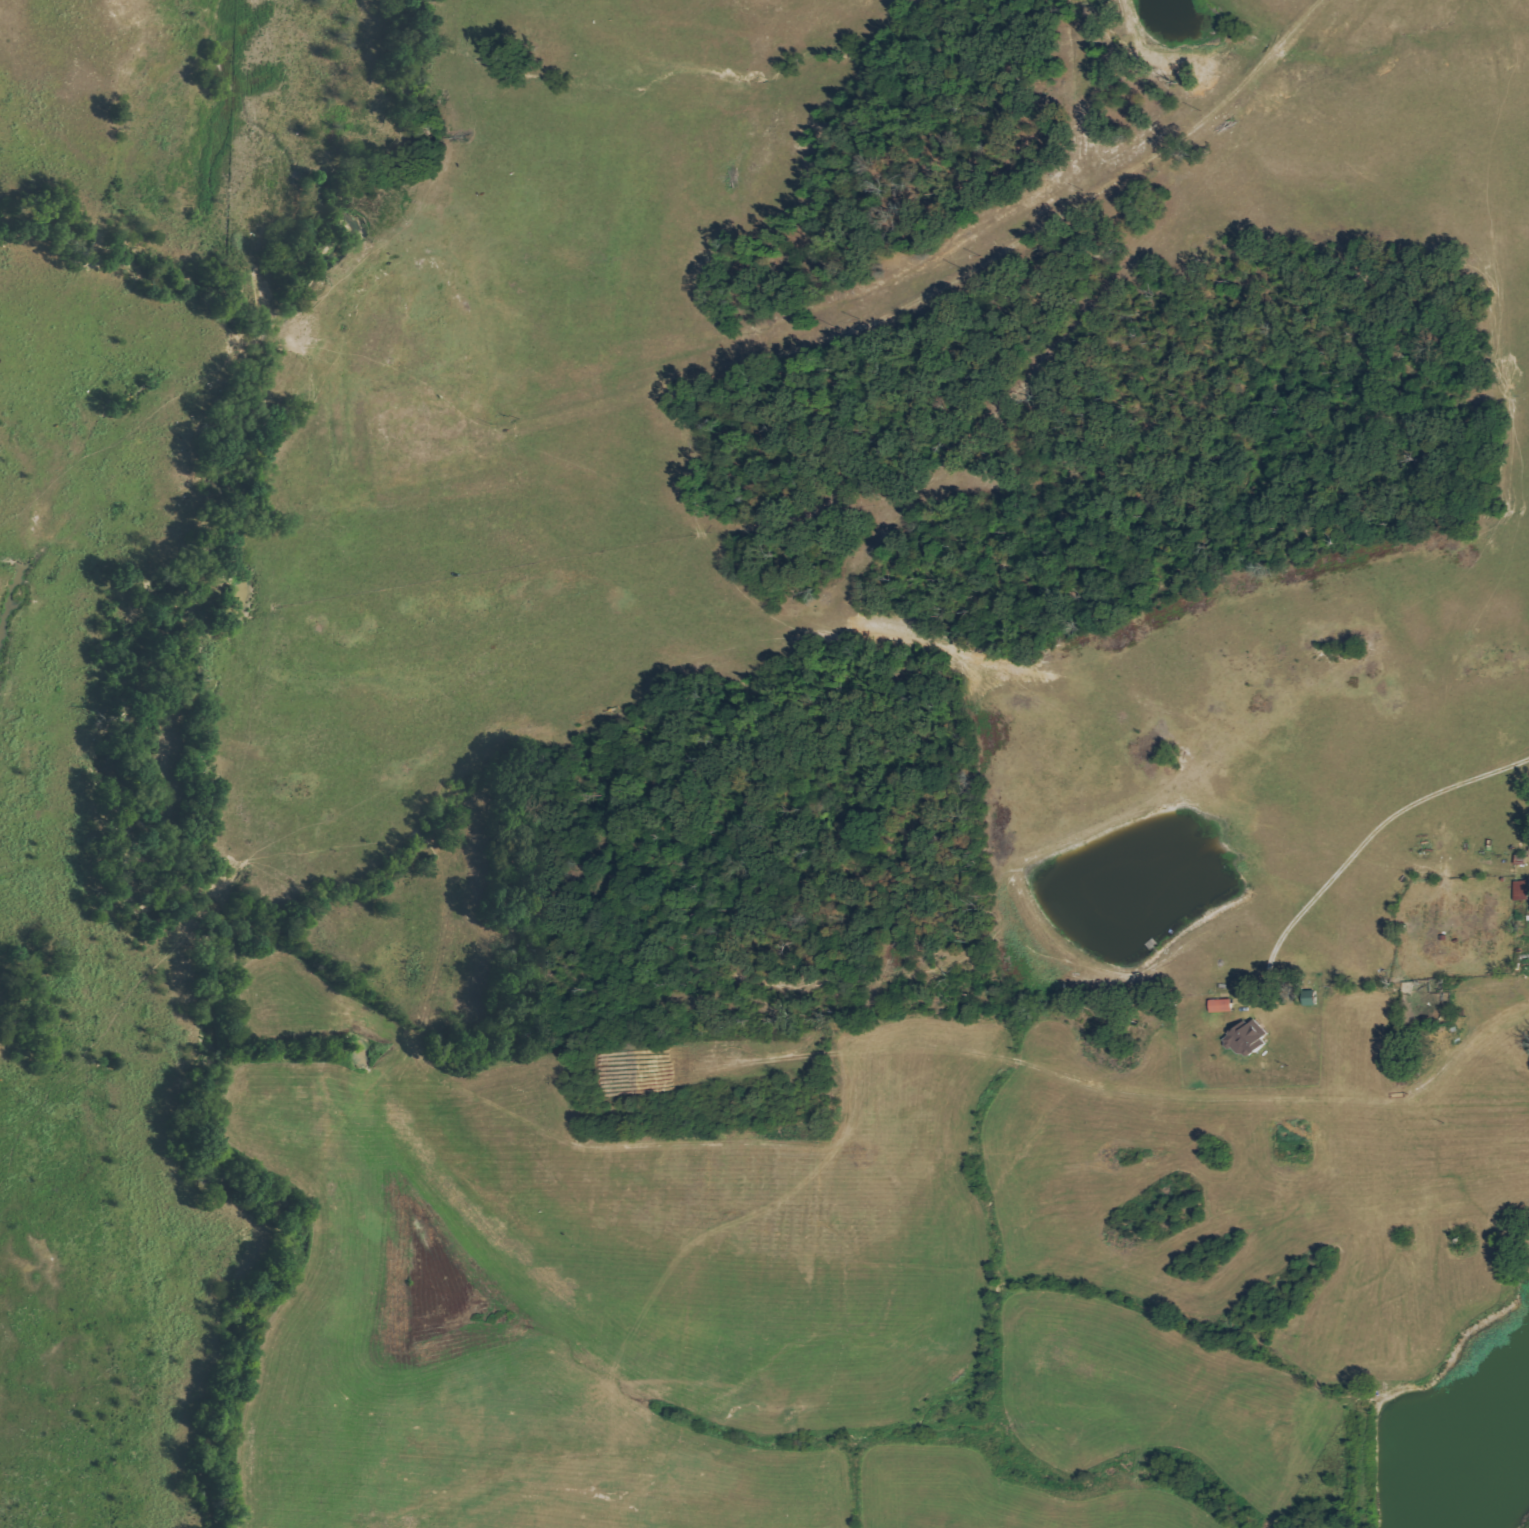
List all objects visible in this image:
road: (1369, 839)
building: (1222, 1005)
building: (1248, 1037)

